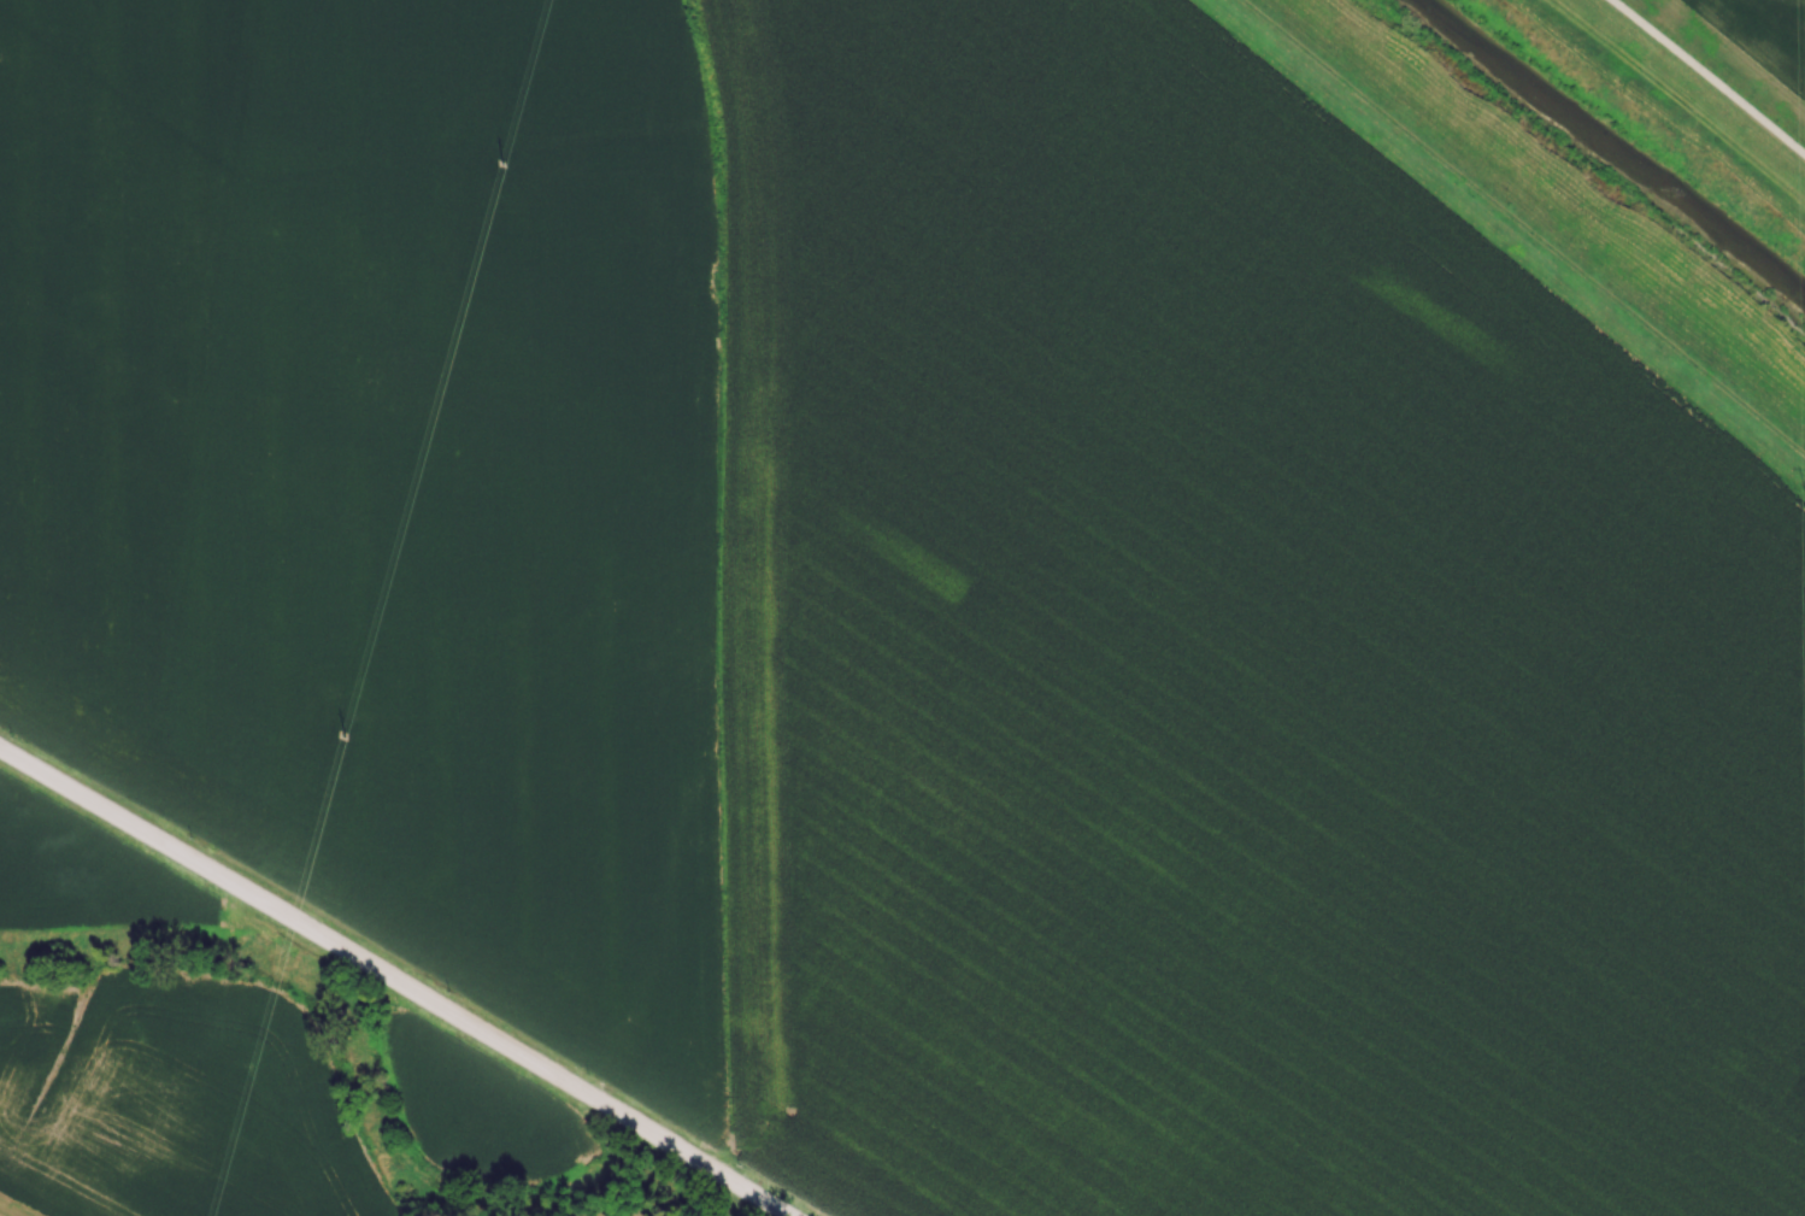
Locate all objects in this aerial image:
road: (1710, 76)
river: (1609, 148)
road: (1522, 227)
crop: (912, 595)
road: (393, 981)
road: (8, 1210)

